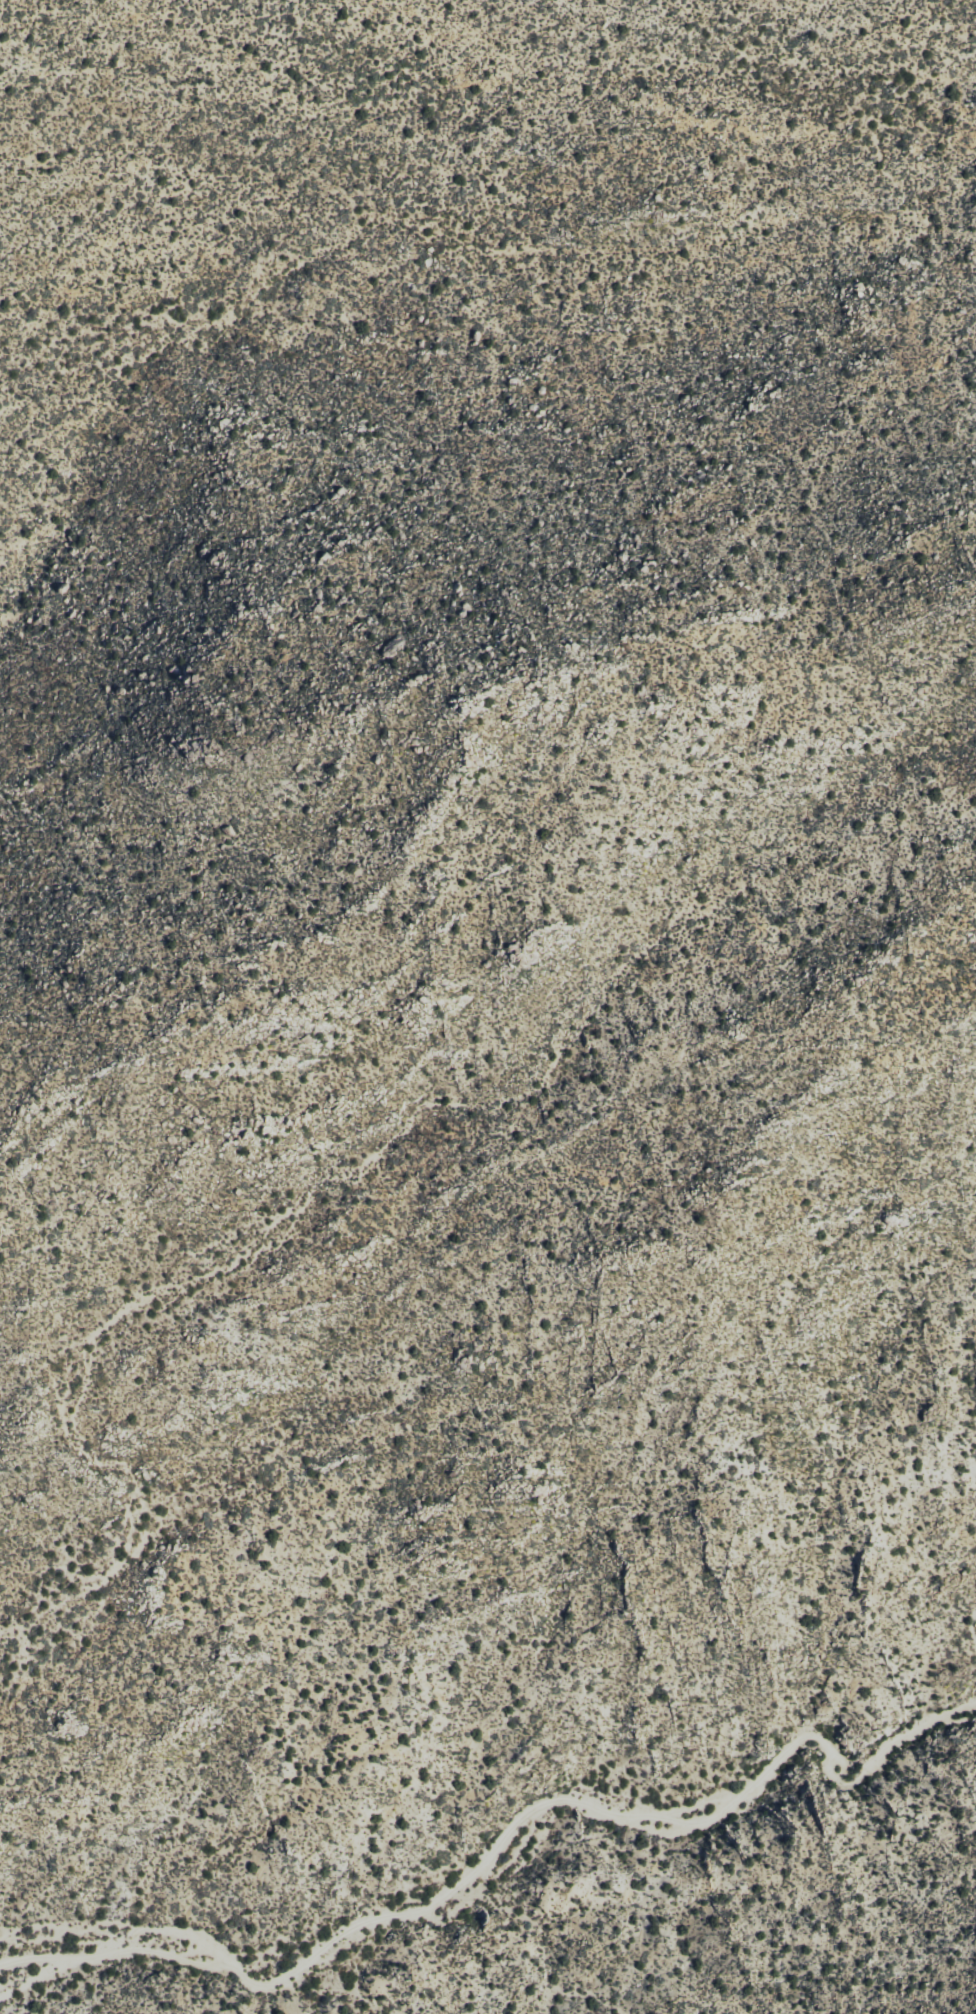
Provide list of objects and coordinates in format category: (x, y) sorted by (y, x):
road: (507, 1831)

